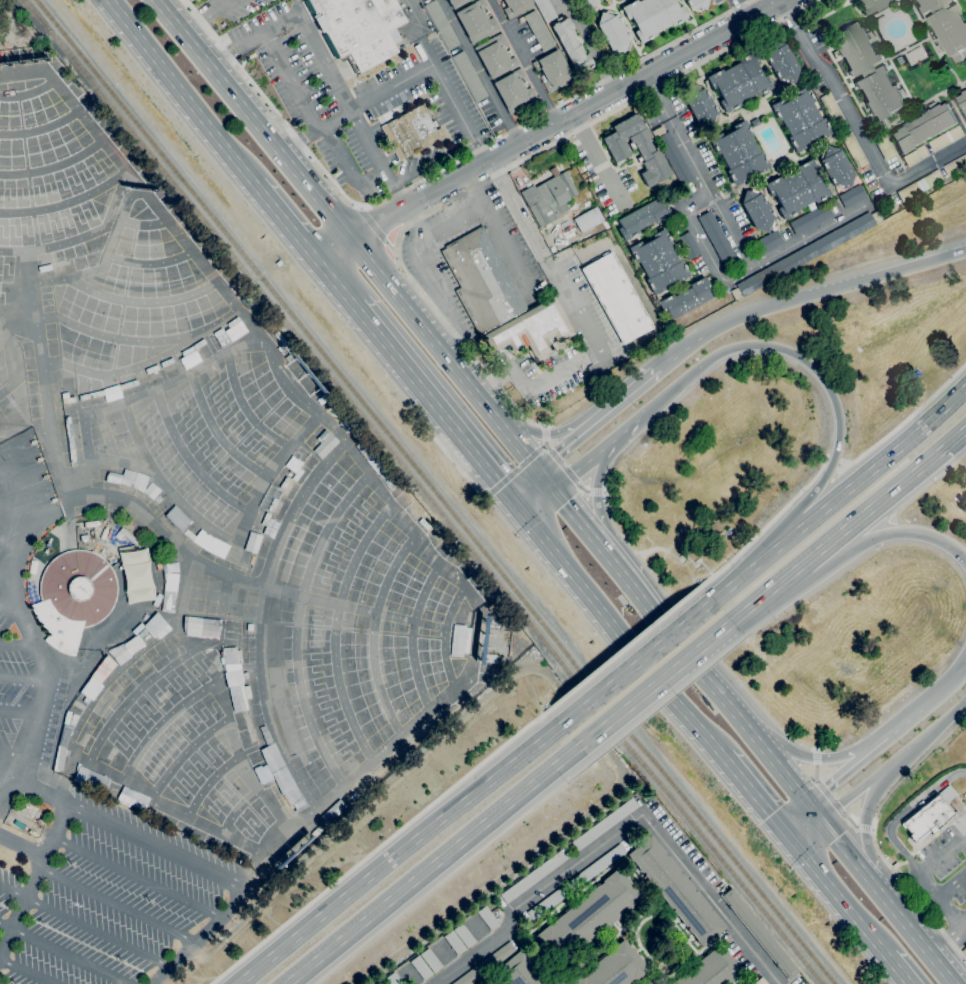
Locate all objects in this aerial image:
building: (589, 2)
road: (775, 2)
building: (456, 3)
building: (697, 4)
railway: (27, 5)
building: (875, 5)
building: (515, 6)
building: (545, 9)
road: (742, 10)
road: (206, 13)
building: (652, 16)
building: (476, 21)
building: (441, 24)
building: (947, 27)
building: (358, 29)
building: (538, 30)
building: (614, 32)
road: (253, 38)
building: (572, 47)
building: (495, 56)
building: (900, 60)
building: (781, 61)
road: (524, 62)
building: (553, 71)
road: (437, 72)
road: (480, 72)
building: (868, 72)
building: (469, 75)
road: (291, 81)
building: (739, 82)
building: (514, 91)
road: (183, 92)
building: (963, 100)
road: (596, 102)
building: (700, 105)
road: (351, 110)
building: (833, 110)
building: (800, 118)
road: (254, 121)
building: (756, 122)
building: (923, 128)
road: (859, 129)
road: (315, 131)
building: (411, 132)
road: (677, 132)
building: (946, 139)
building: (885, 147)
building: (636, 148)
building: (854, 150)
building: (739, 152)
building: (673, 154)
building: (915, 156)
road: (596, 161)
road: (432, 162)
building: (955, 166)
road: (347, 167)
building: (837, 167)
road: (435, 173)
road: (493, 176)
building: (920, 185)
building: (797, 189)
building: (852, 196)
building: (549, 198)
road: (697, 198)
road: (865, 204)
road: (403, 208)
building: (757, 210)
building: (642, 218)
building: (811, 218)
building: (588, 219)
road: (418, 220)
building: (614, 220)
road: (374, 224)
road: (289, 226)
road: (730, 229)
road: (379, 230)
road: (500, 233)
building: (718, 240)
building: (769, 241)
building: (690, 246)
road: (385, 249)
road: (537, 250)
road: (338, 254)
building: (805, 254)
road: (714, 257)
road: (759, 257)
road: (422, 261)
building: (659, 261)
road: (765, 262)
road: (372, 266)
building: (482, 280)
road: (411, 284)
road: (340, 287)
road: (823, 289)
building: (616, 298)
building: (686, 298)
road: (745, 301)
building: (234, 322)
building: (238, 329)
building: (531, 330)
building: (198, 344)
road: (673, 359)
road: (805, 362)
road: (194, 369)
road: (464, 380)
building: (128, 384)
building: (92, 395)
building: (69, 400)
road: (619, 404)
road: (437, 406)
road: (905, 420)
road: (623, 432)
building: (350, 433)
building: (318, 435)
road: (542, 435)
road: (546, 435)
building: (32, 442)
building: (366, 450)
road: (558, 453)
building: (377, 458)
building: (38, 459)
road: (828, 459)
building: (297, 461)
road: (833, 462)
road: (879, 462)
road: (583, 465)
road: (841, 465)
road: (460, 468)
road: (515, 471)
traffic signals: (538, 471)
road: (572, 475)
building: (45, 476)
building: (127, 477)
building: (386, 480)
road: (546, 480)
building: (140, 483)
road: (900, 483)
road: (19, 484)
road: (528, 488)
building: (151, 490)
traffic signals: (555, 490)
road: (596, 490)
railway: (424, 491)
railway: (434, 491)
road: (536, 498)
building: (270, 499)
building: (53, 500)
traffic signals: (518, 506)
road: (11, 510)
road: (31, 513)
road: (575, 516)
building: (177, 518)
building: (91, 523)
road: (768, 523)
building: (271, 528)
road: (618, 530)
building: (104, 534)
road: (904, 534)
building: (130, 537)
building: (252, 543)
road: (11, 544)
road: (653, 548)
road: (819, 548)
building: (152, 554)
building: (134, 556)
road: (682, 557)
road: (696, 562)
building: (32, 566)
road: (752, 567)
road: (568, 568)
road: (710, 573)
building: (137, 575)
road: (8, 578)
road: (629, 582)
building: (169, 585)
road: (767, 591)
building: (140, 594)
building: (74, 596)
building: (157, 600)
road: (11, 610)
building: (200, 626)
road: (447, 626)
building: (233, 627)
road: (32, 633)
building: (140, 637)
building: (458, 640)
road: (19, 644)
road: (625, 647)
building: (227, 655)
building: (489, 658)
road: (637, 662)
building: (284, 664)
building: (103, 669)
road: (706, 676)
road: (24, 678)
building: (232, 678)
road: (655, 684)
road: (744, 685)
road: (944, 685)
building: (249, 688)
road: (670, 692)
building: (78, 704)
building: (239, 710)
road: (20, 711)
road: (900, 726)
building: (65, 734)
road: (927, 735)
road: (16, 745)
road: (816, 748)
road: (812, 756)
road: (816, 757)
building: (59, 758)
road: (779, 766)
road: (815, 773)
road: (843, 774)
road: (11, 776)
building: (278, 777)
road: (346, 781)
building: (112, 790)
road: (854, 794)
road: (755, 795)
road: (830, 796)
traffic signals: (808, 803)
road: (815, 812)
building: (931, 812)
road: (904, 814)
road: (849, 816)
road: (867, 818)
road: (798, 819)
road: (865, 820)
traffic signals: (822, 821)
building: (39, 823)
road: (873, 823)
building: (19, 824)
building: (605, 824)
road: (805, 828)
road: (620, 829)
building: (32, 832)
road: (133, 833)
traffic signals: (789, 836)
road: (22, 845)
road: (380, 847)
road: (843, 847)
road: (399, 853)
road: (943, 856)
road: (433, 865)
road: (136, 876)
building: (534, 876)
road: (34, 879)
road: (869, 879)
building: (577, 881)
road: (952, 887)
road: (909, 889)
building: (676, 891)
road: (837, 895)
road: (942, 902)
road: (115, 905)
parking lot: (98, 913)
building: (588, 917)
building: (489, 918)
road: (83, 927)
building: (760, 934)
road: (913, 934)
building: (465, 936)
road: (197, 937)
road: (949, 940)
building: (455, 942)
road: (63, 953)
building: (431, 960)
building: (486, 964)
building: (422, 967)
building: (614, 967)
building: (712, 969)
road: (898, 969)
road: (25, 971)
building: (519, 971)
building: (394, 979)
building: (761, 981)
building: (478, 983)
building: (749, 983)

